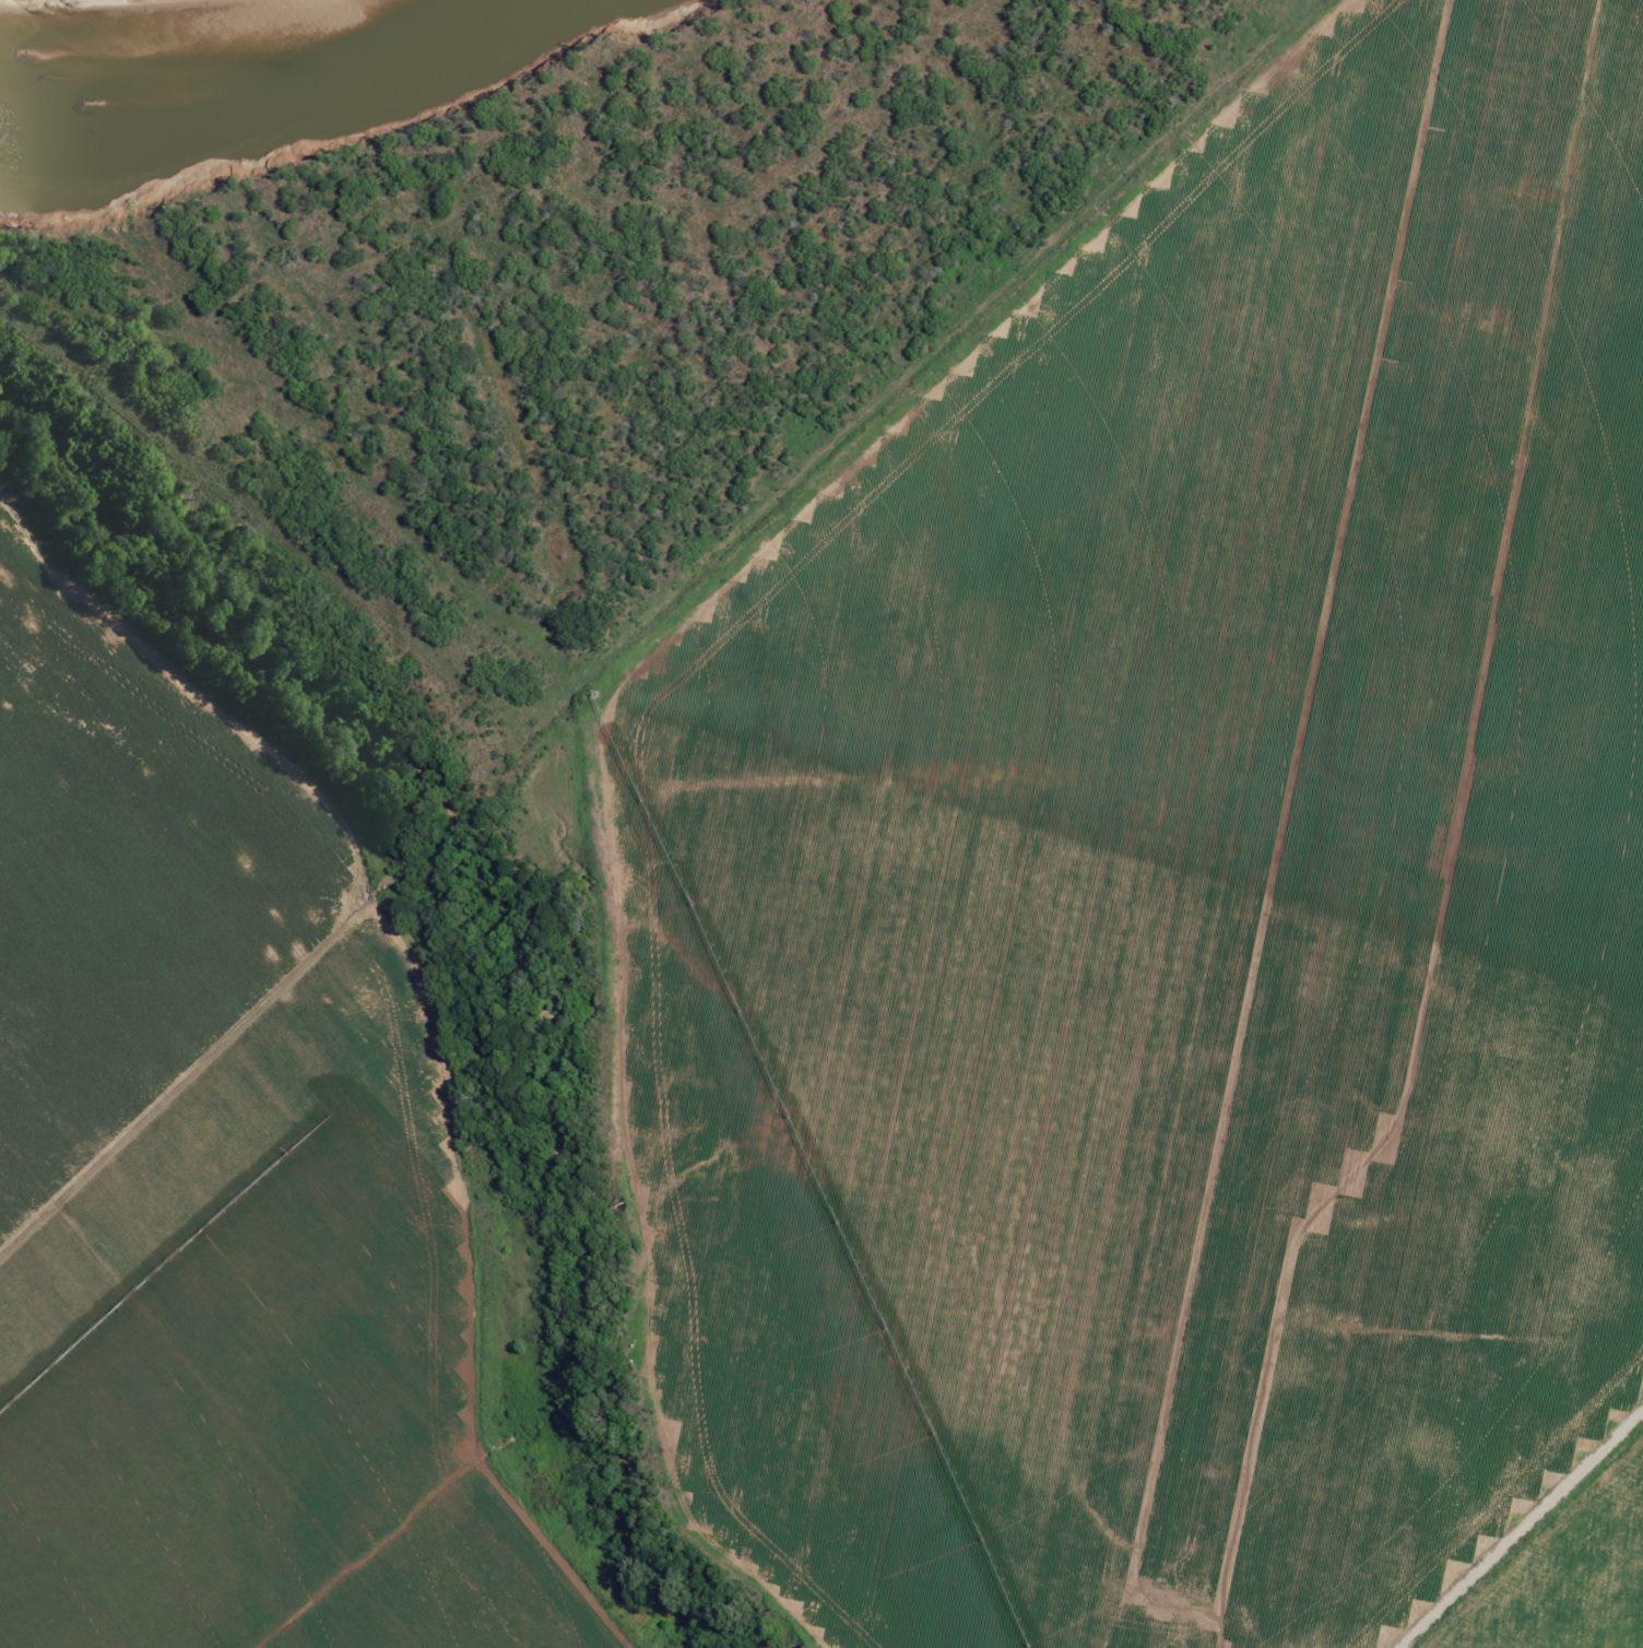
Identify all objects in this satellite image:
road: (1516, 1523)

